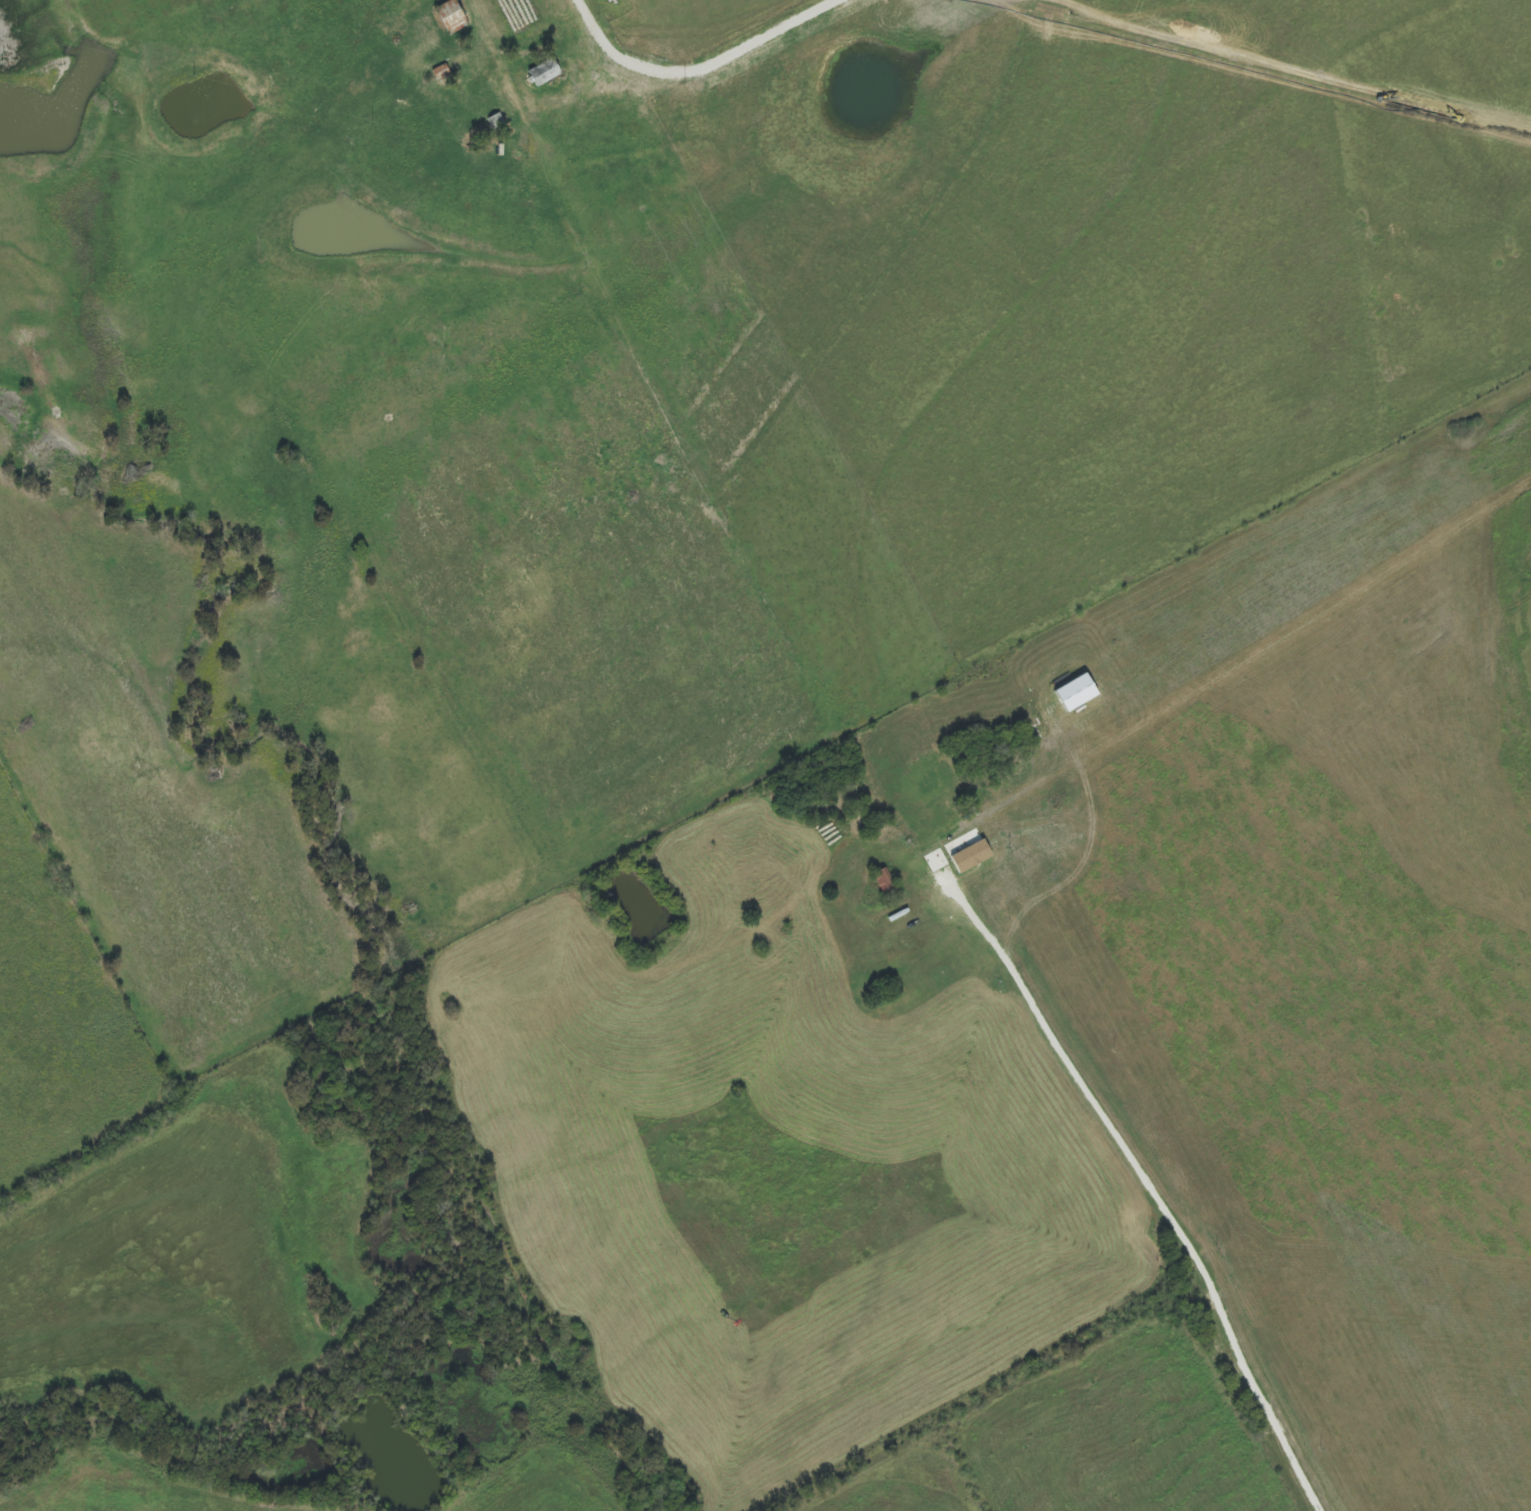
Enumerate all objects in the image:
building: (454, 17)
road: (701, 62)

